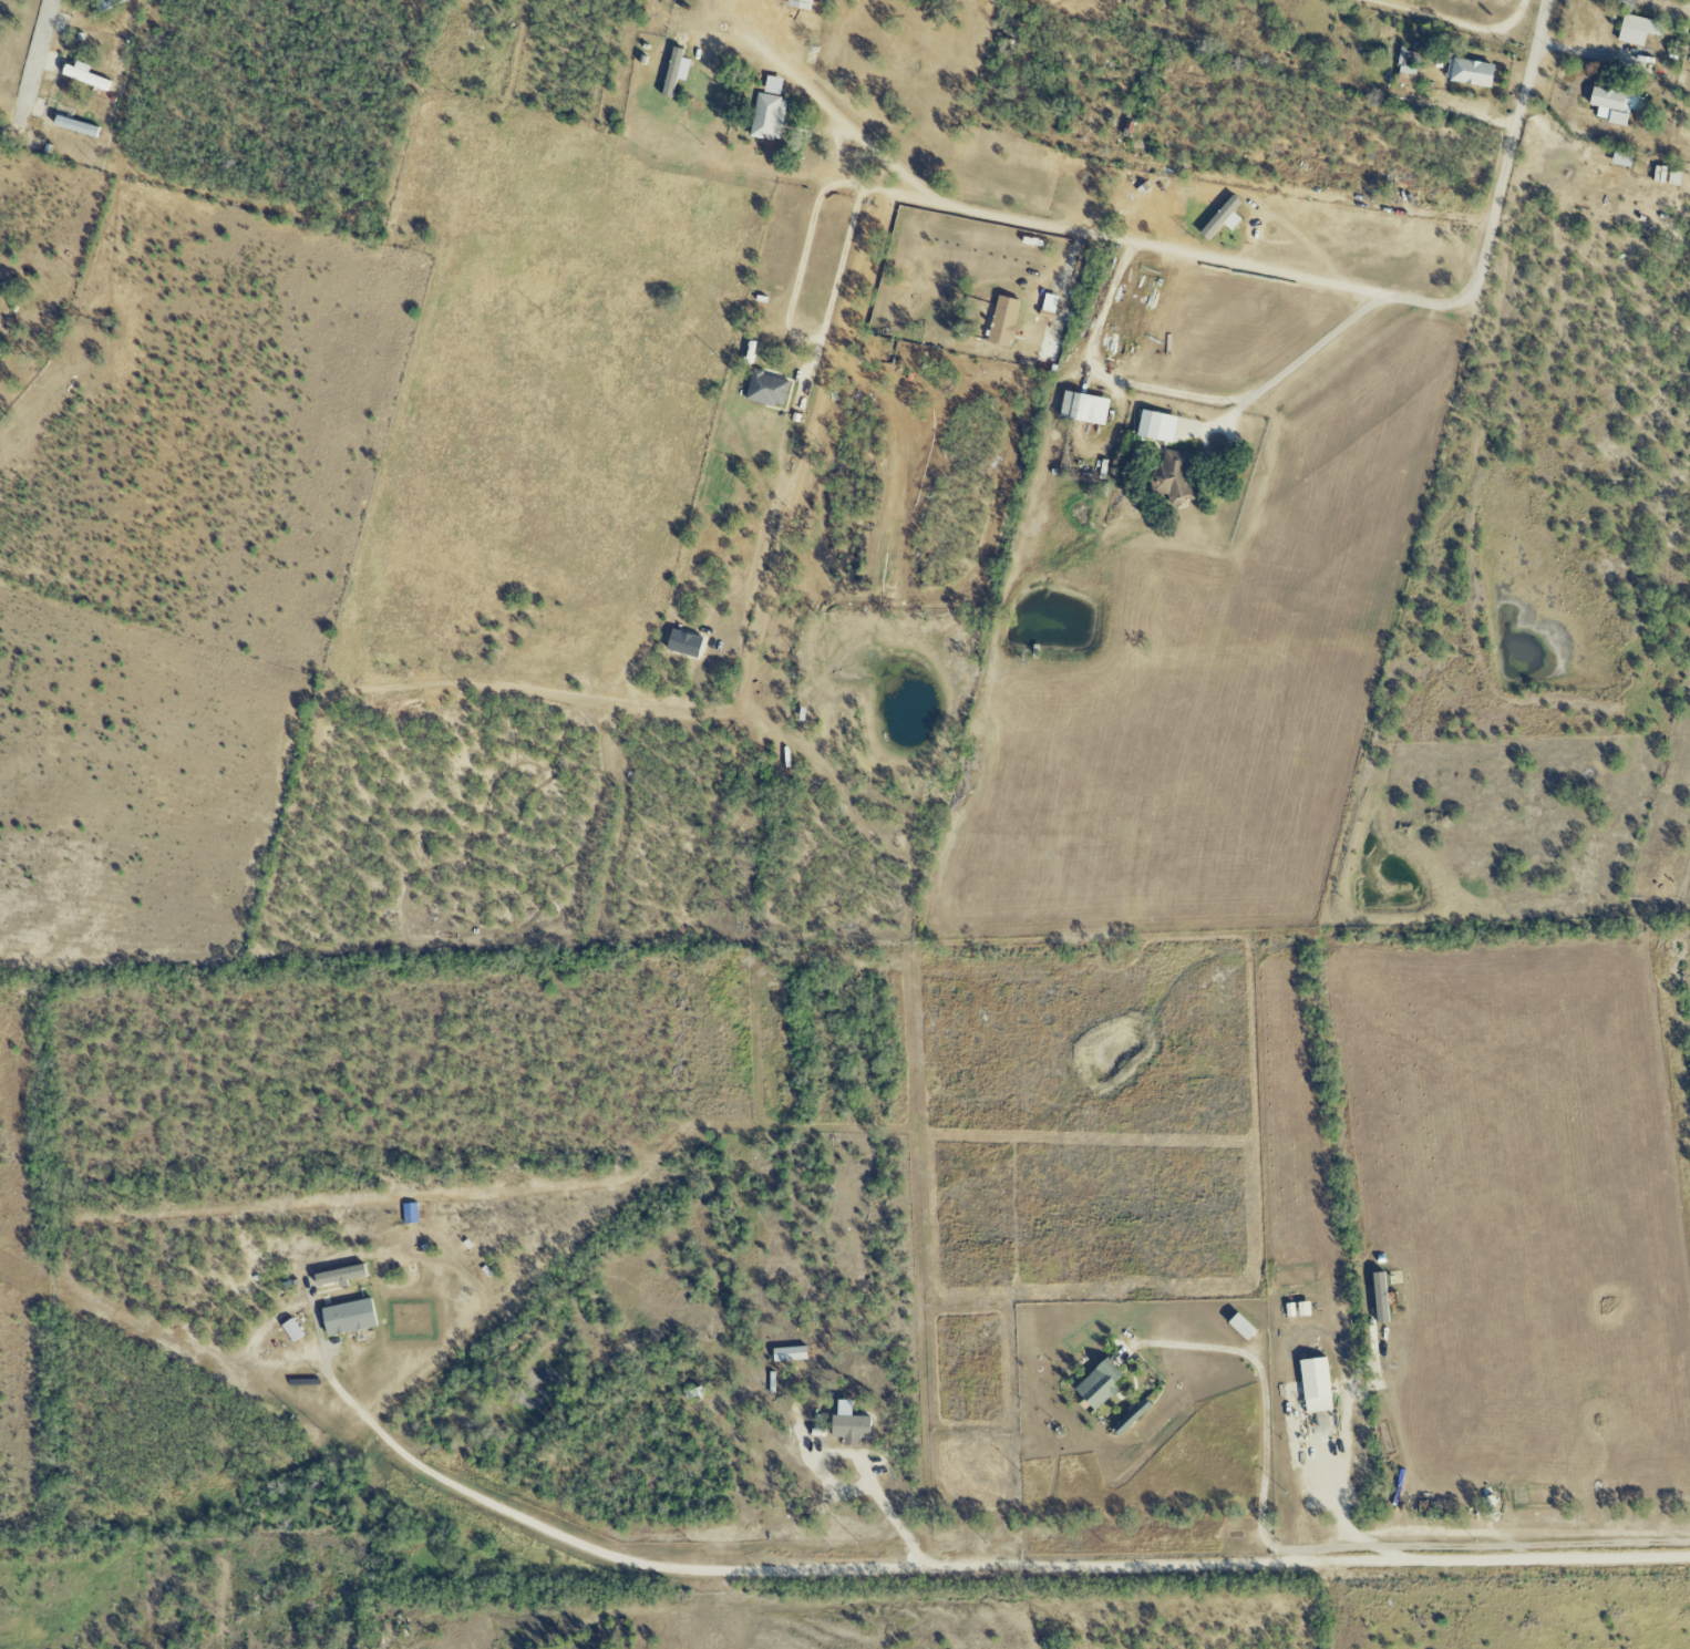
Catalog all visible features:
building: (798, 4)
road: (1455, 19)
building: (1637, 30)
road: (759, 48)
road: (33, 61)
building: (1405, 68)
building: (673, 72)
building: (1467, 73)
building: (83, 76)
building: (1612, 105)
building: (767, 112)
building: (74, 127)
building: (1620, 159)
building: (1658, 175)
road: (865, 188)
building: (1220, 219)
road: (1264, 268)
building: (1002, 321)
road: (798, 341)
building: (1, 349)
road: (1305, 354)
road: (1107, 374)
building: (766, 390)
building: (1082, 409)
building: (1155, 426)
building: (339, 1275)
building: (1379, 1297)
building: (1301, 1309)
building: (1288, 1310)
building: (347, 1318)
building: (290, 1330)
building: (787, 1354)
building: (1096, 1384)
building: (1313, 1385)
building: (848, 1429)
road: (859, 1465)
road: (1330, 1546)
road: (968, 1566)

